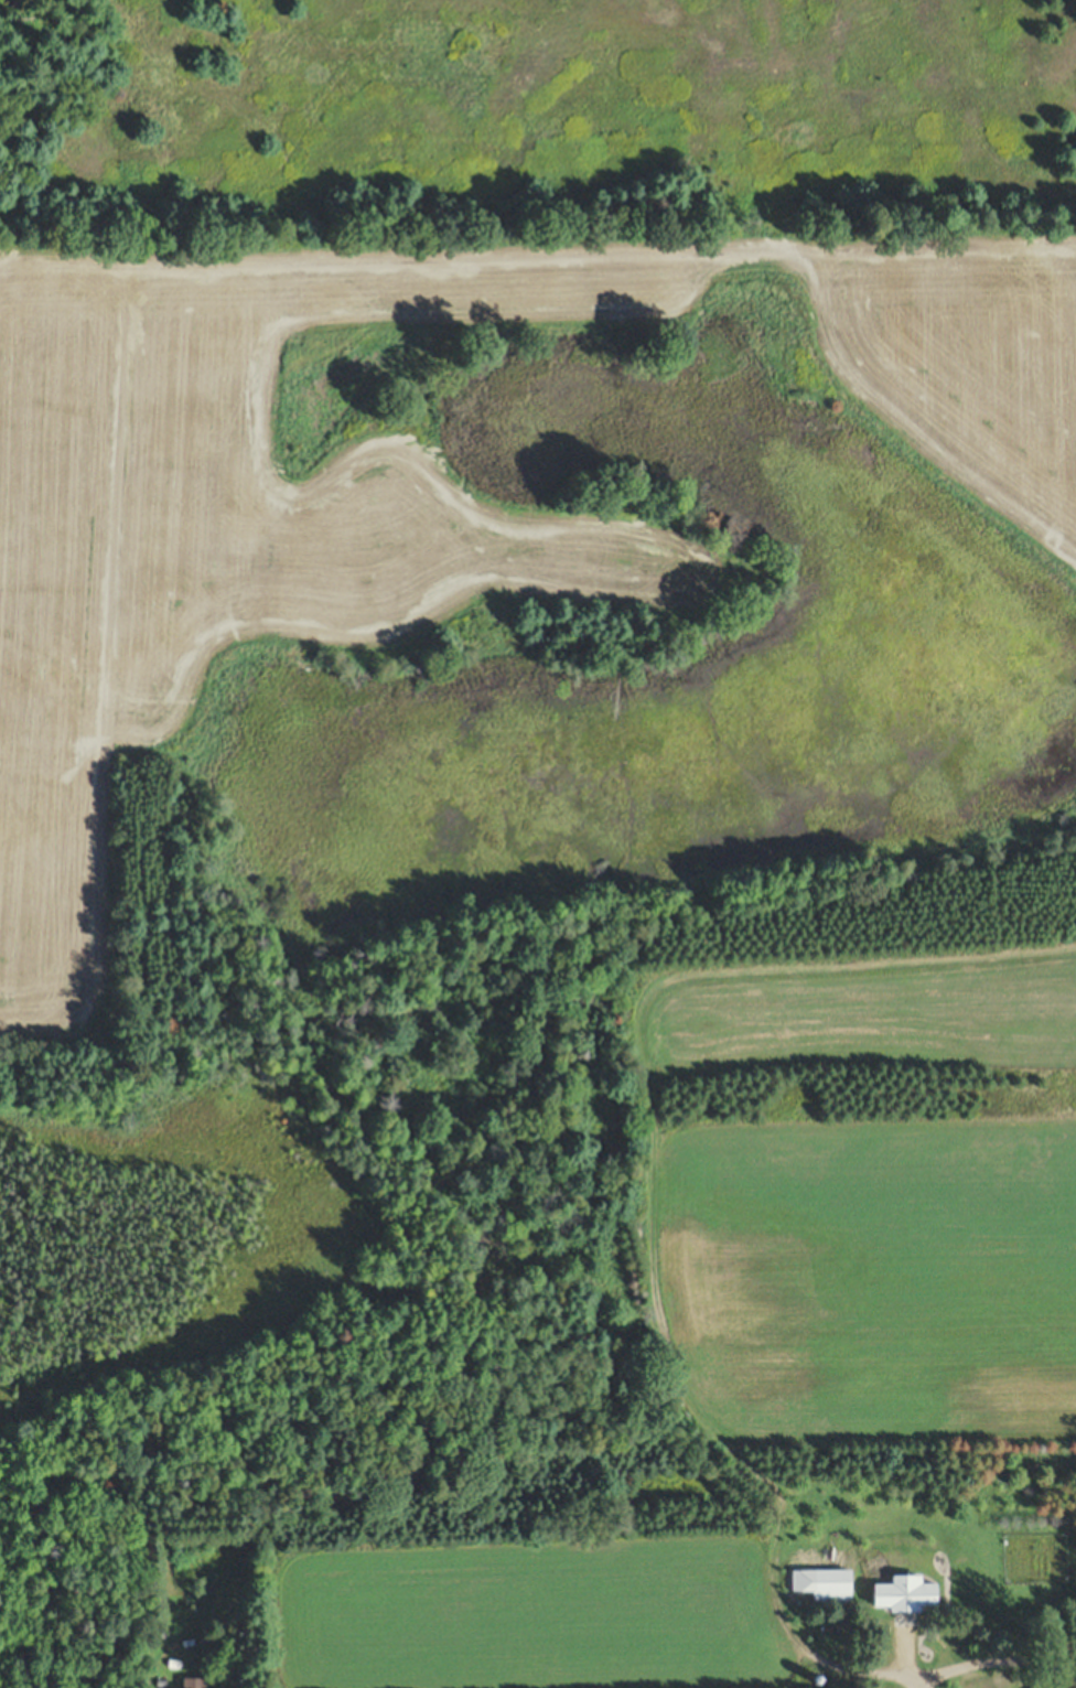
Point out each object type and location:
building: (831, 1585)
building: (906, 1595)
building: (989, 1681)
building: (194, 1682)

